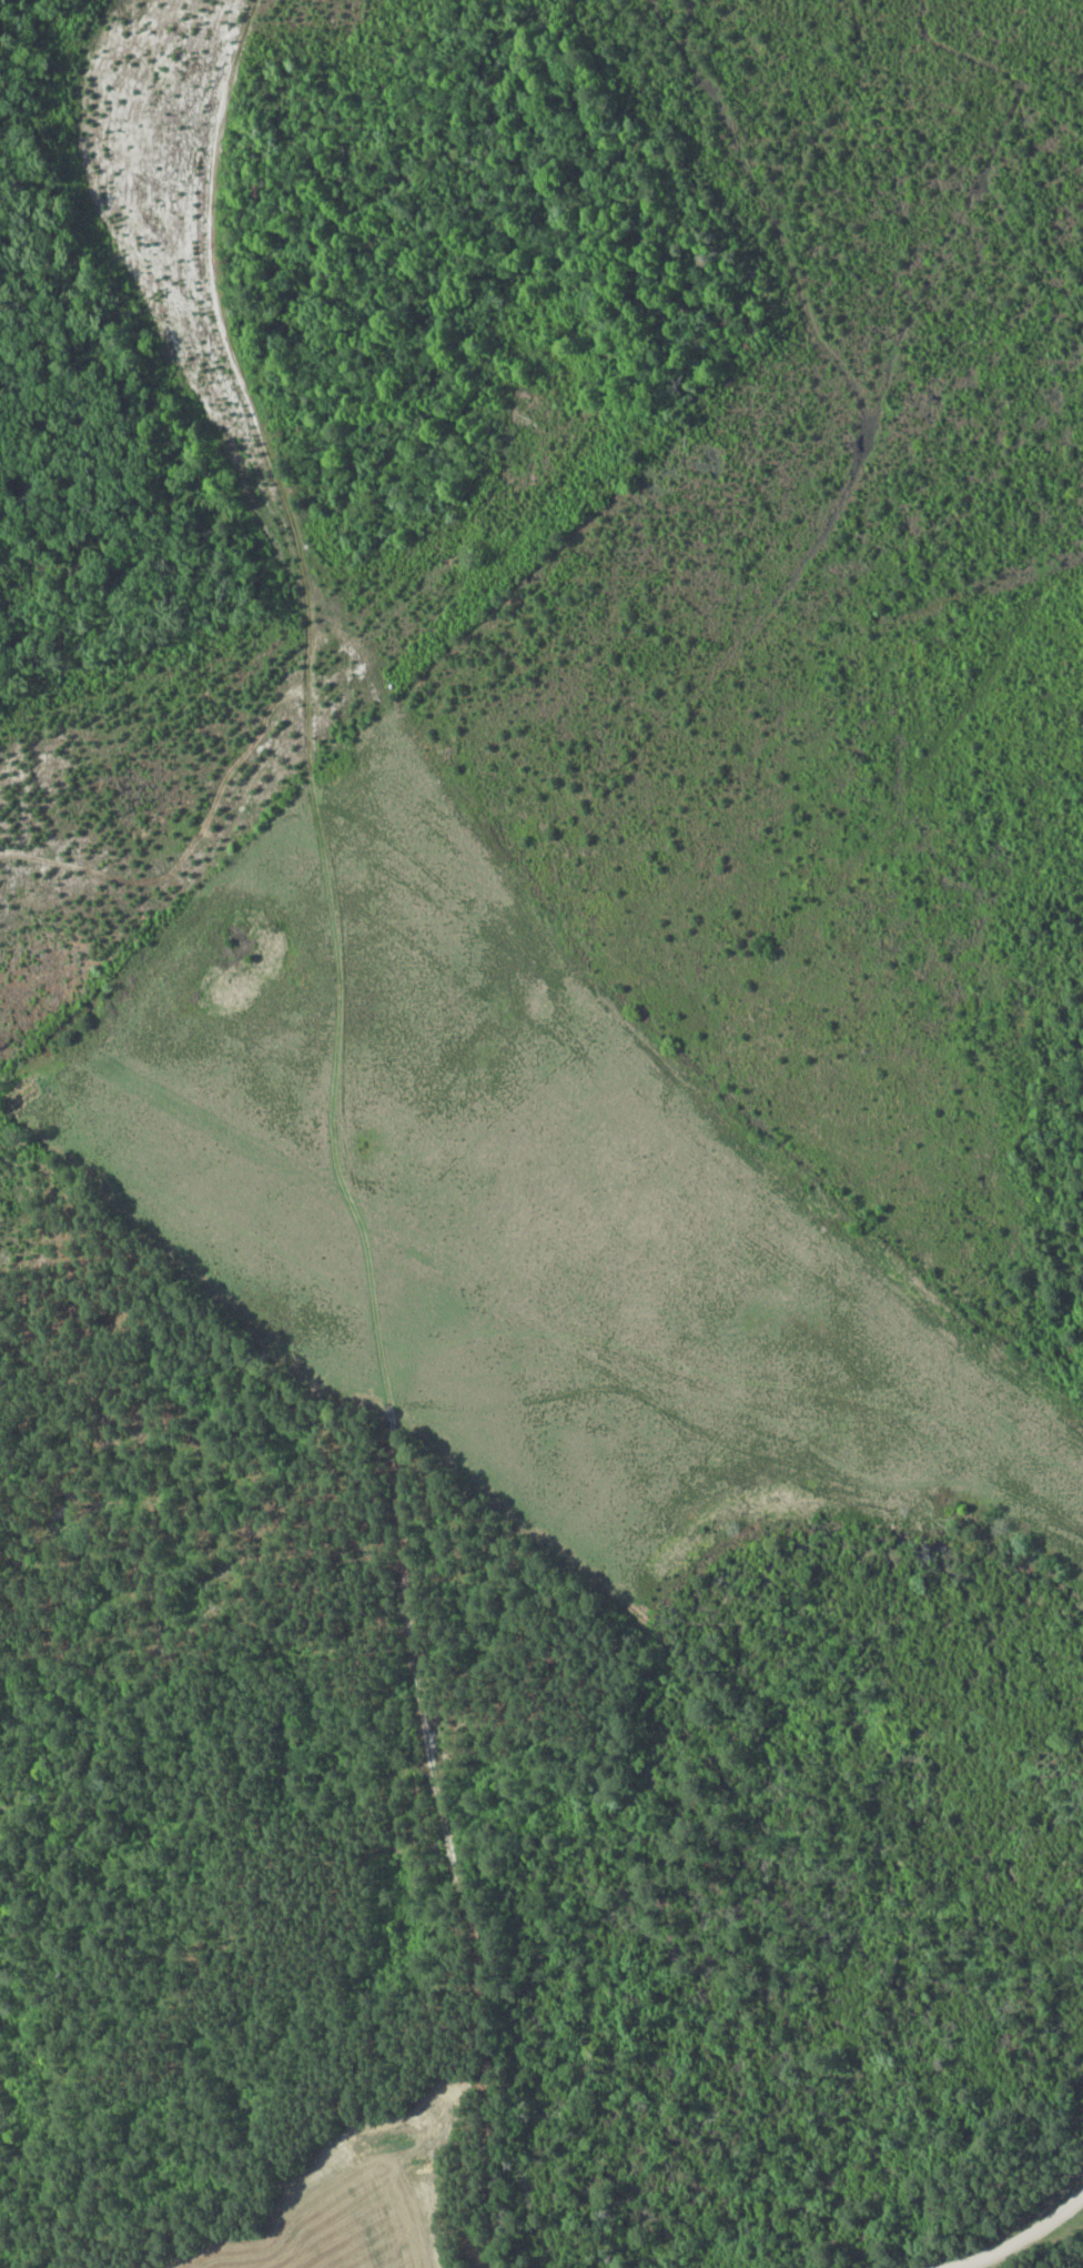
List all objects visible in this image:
road: (1013, 2239)

